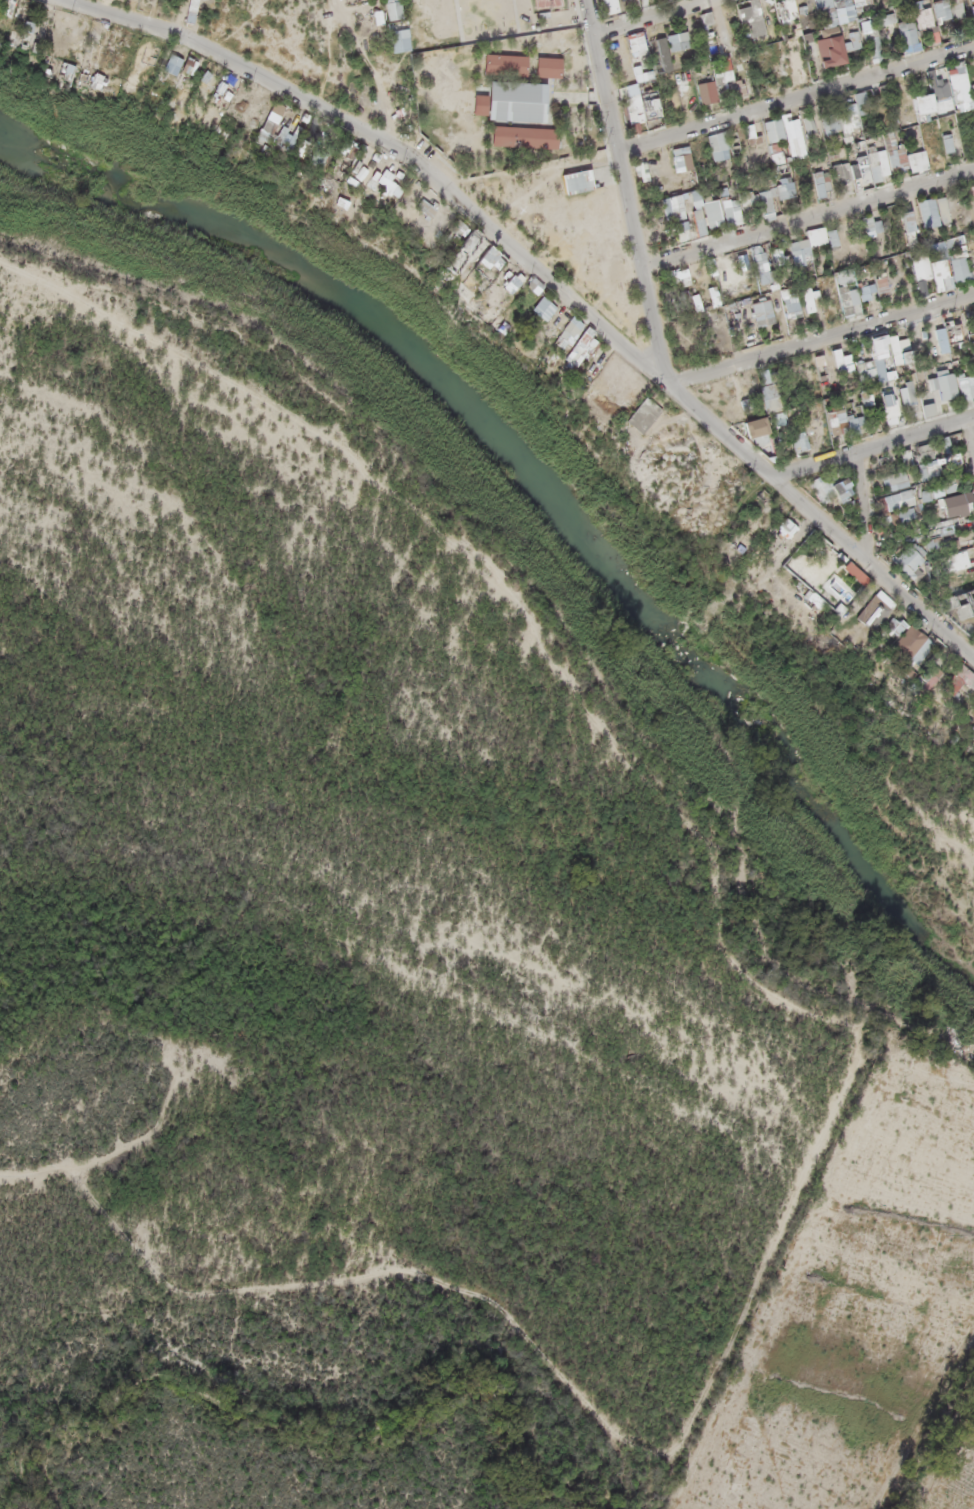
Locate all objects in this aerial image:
river: (542, 471)

